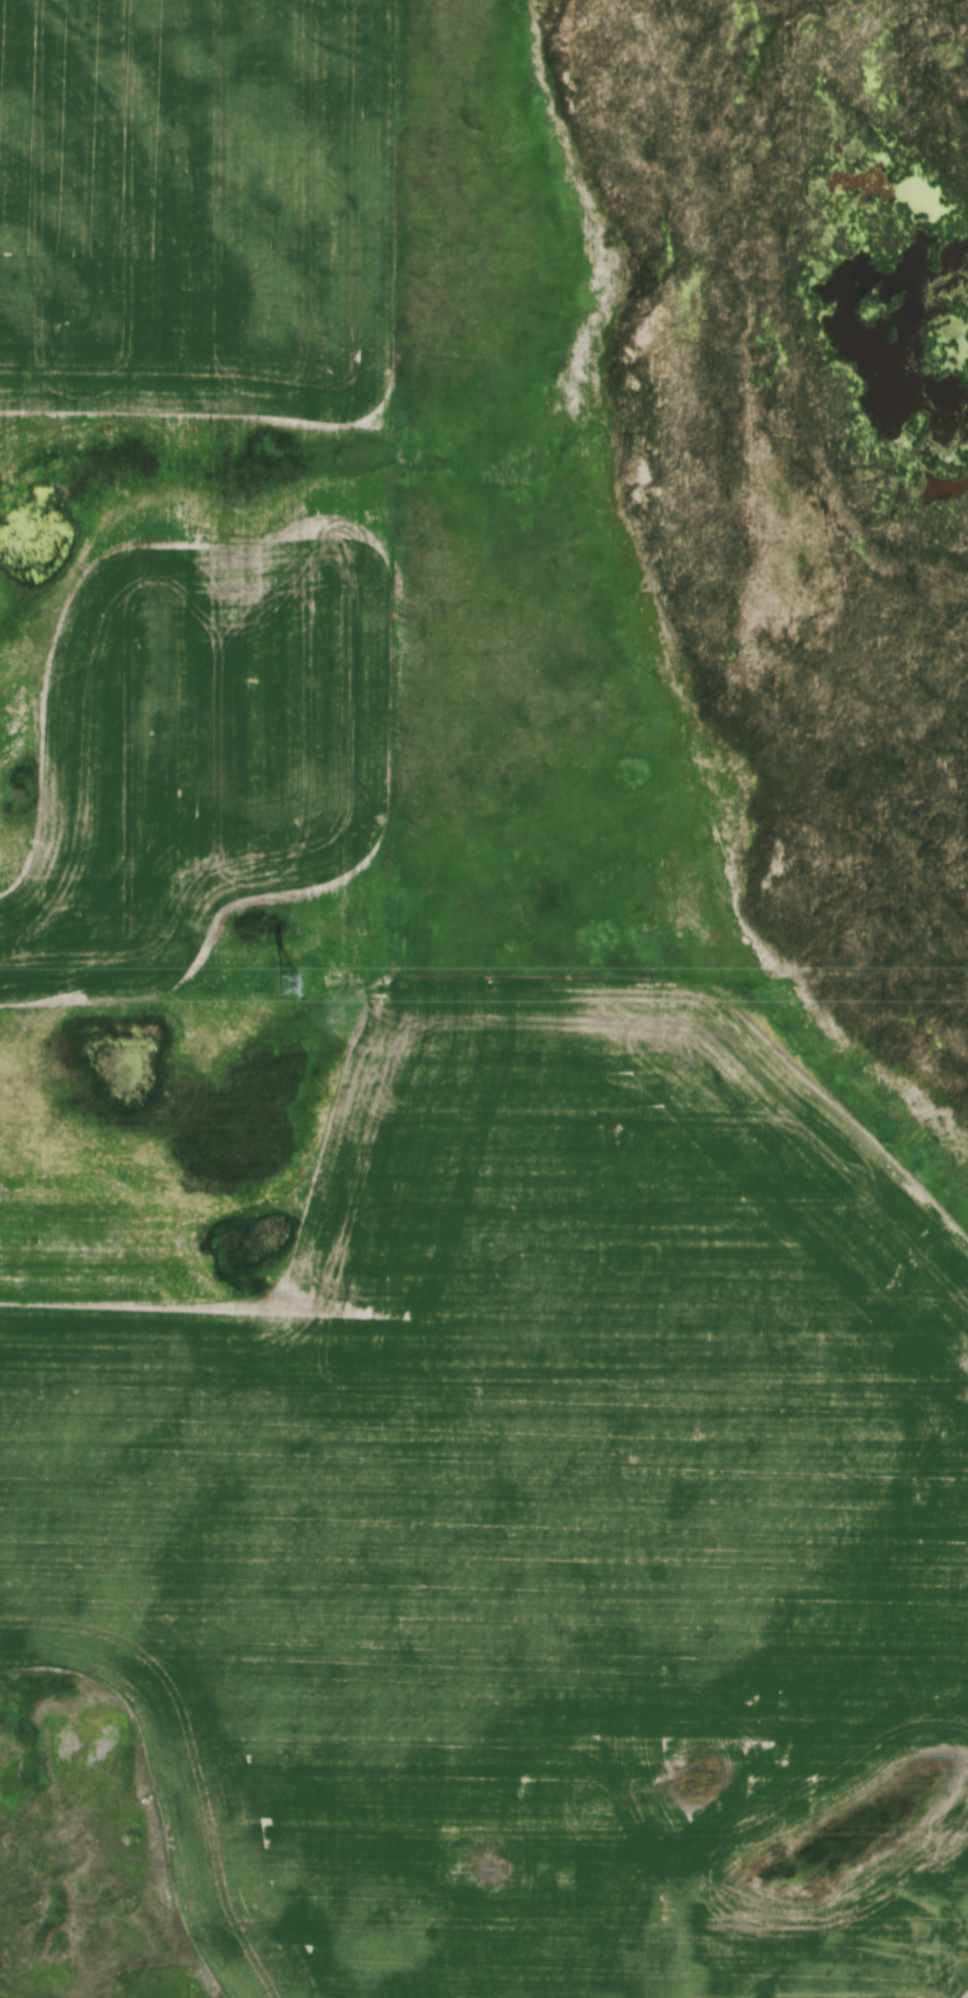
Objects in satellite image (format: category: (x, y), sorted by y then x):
power tower: (290, 987)

